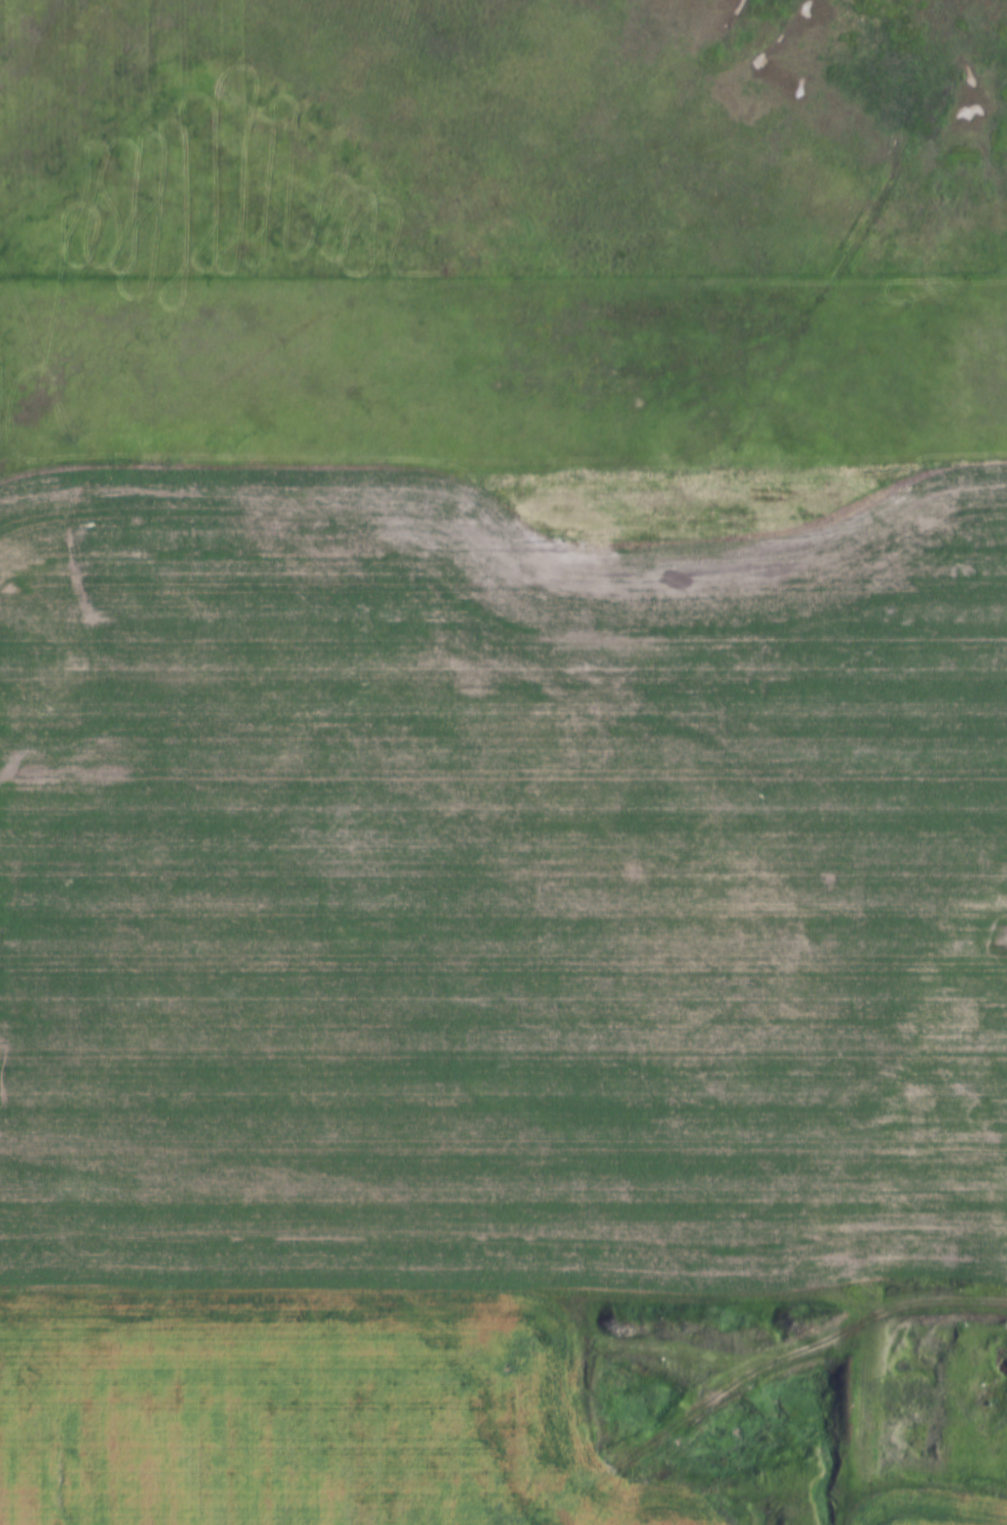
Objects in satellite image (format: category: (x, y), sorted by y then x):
road: (753, 1372)

